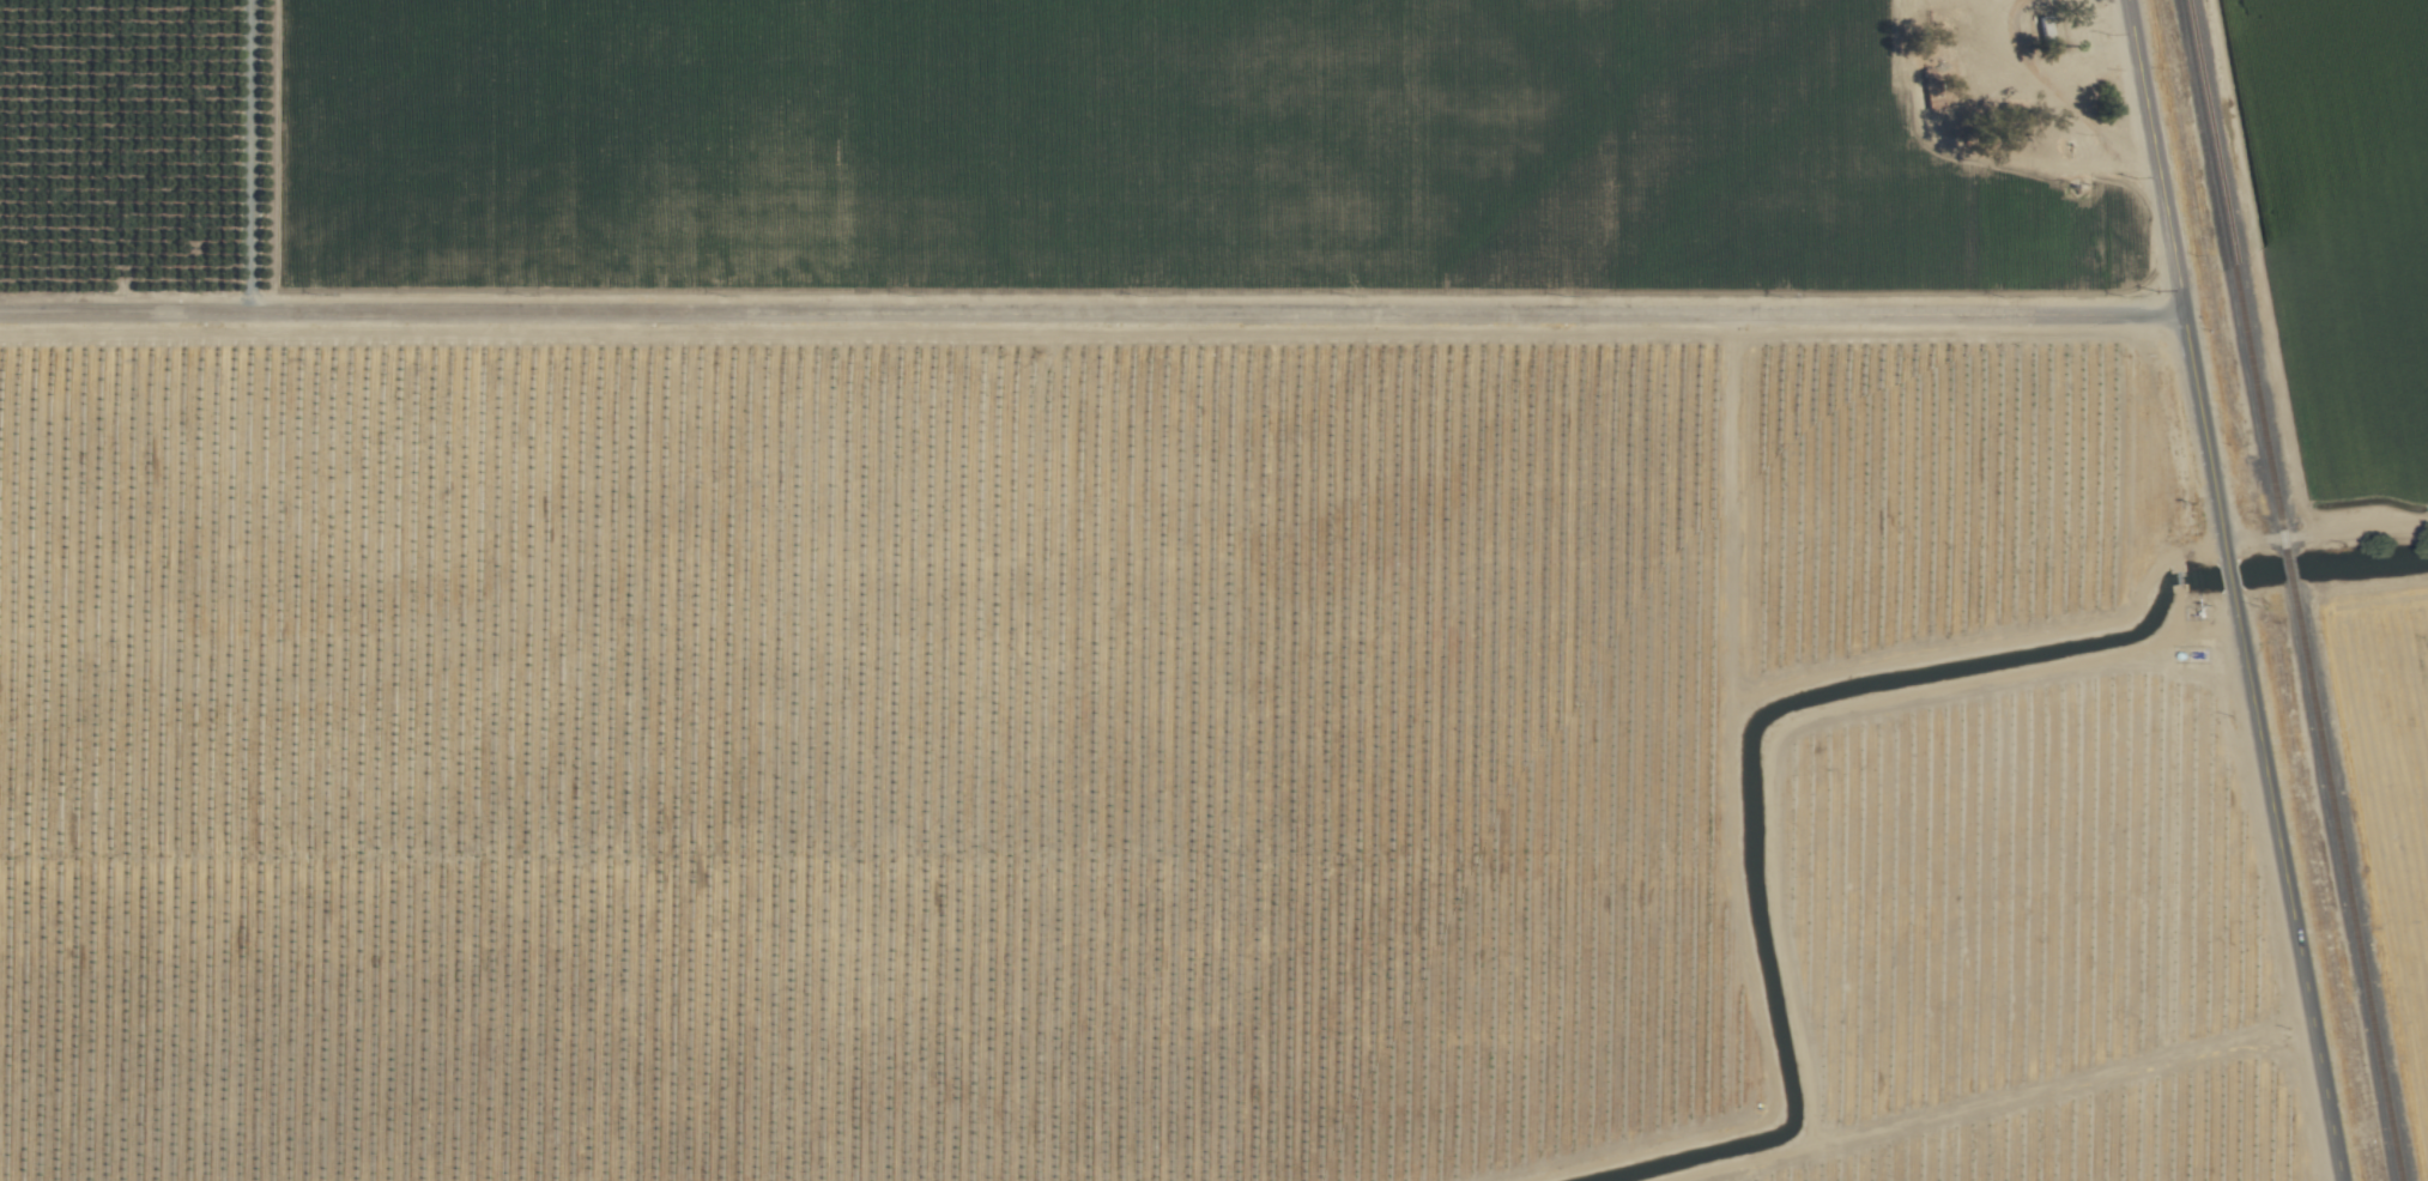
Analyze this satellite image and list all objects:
railway: (2234, 272)
road: (2175, 280)
road: (1091, 315)
railway: (2287, 563)
road: (2228, 579)
railway: (2344, 880)
road: (2285, 888)

